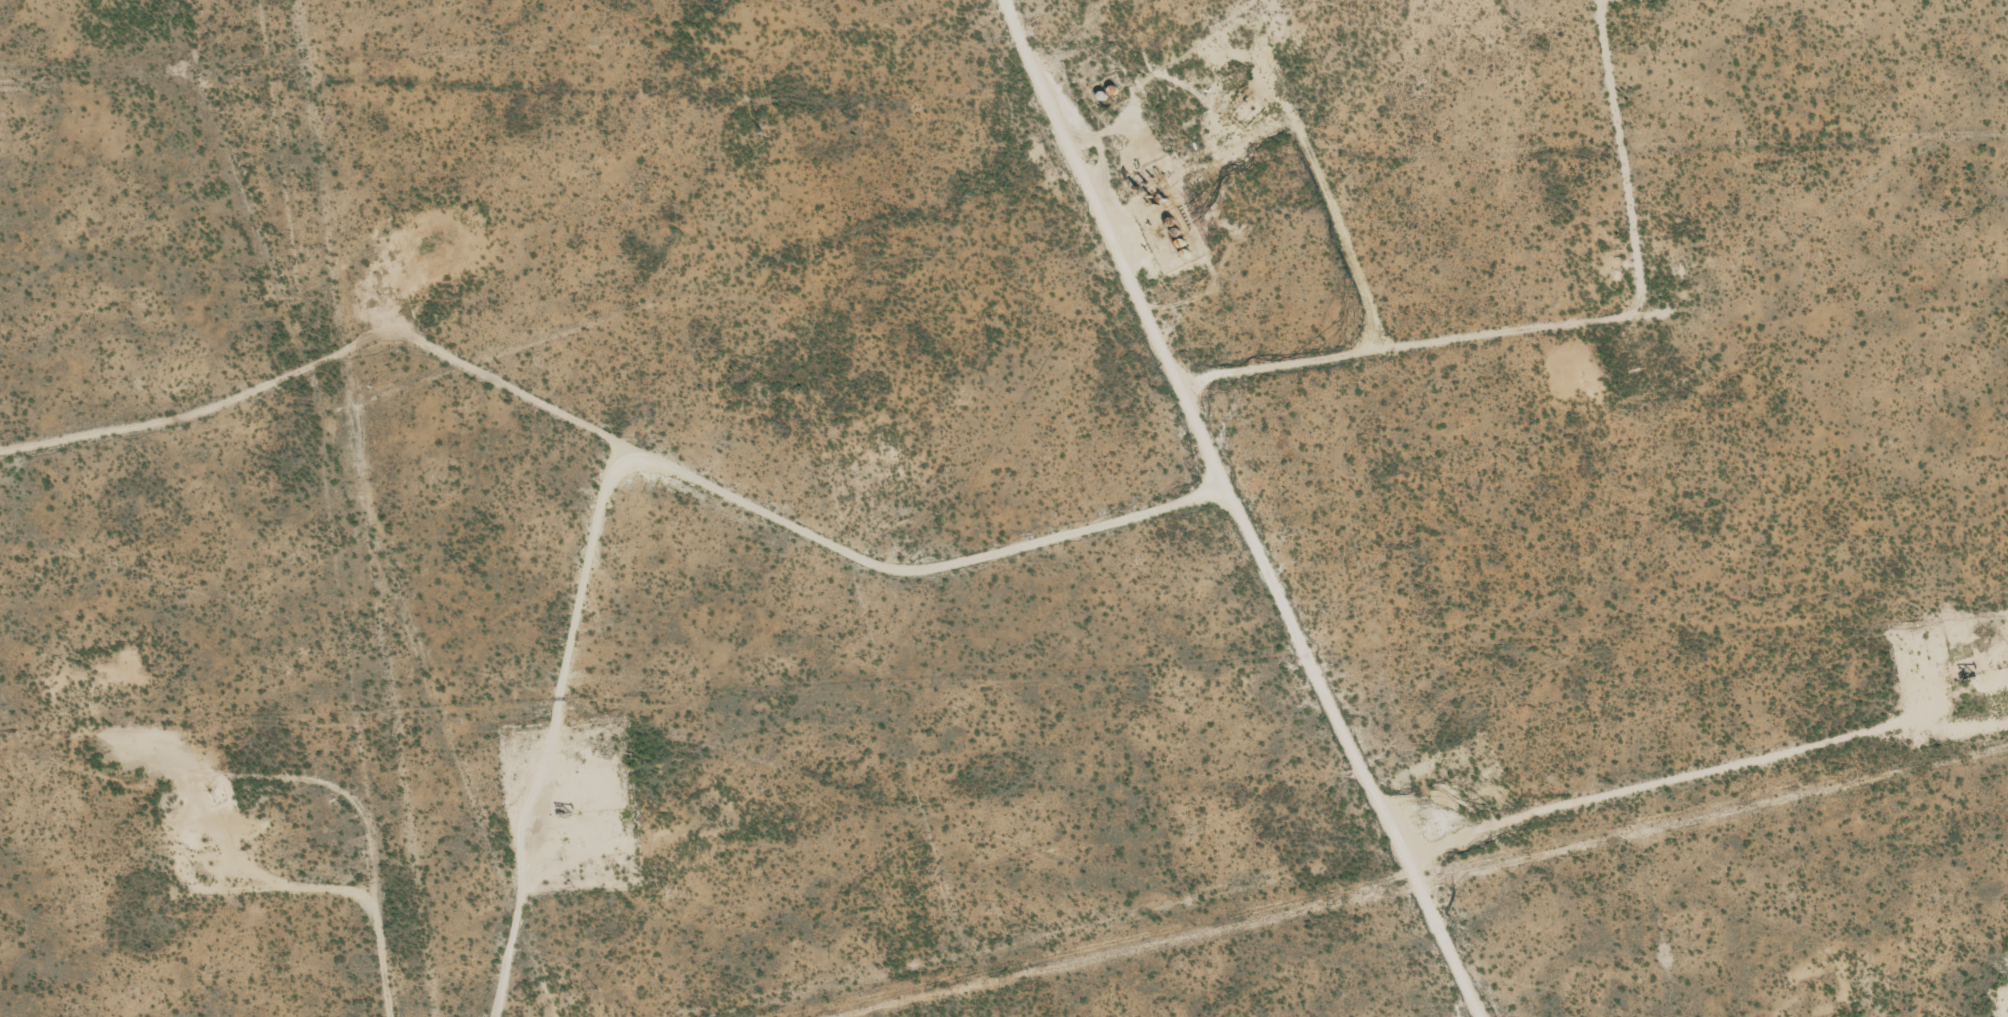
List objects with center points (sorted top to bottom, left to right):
road: (650, 464)
road: (1252, 518)

